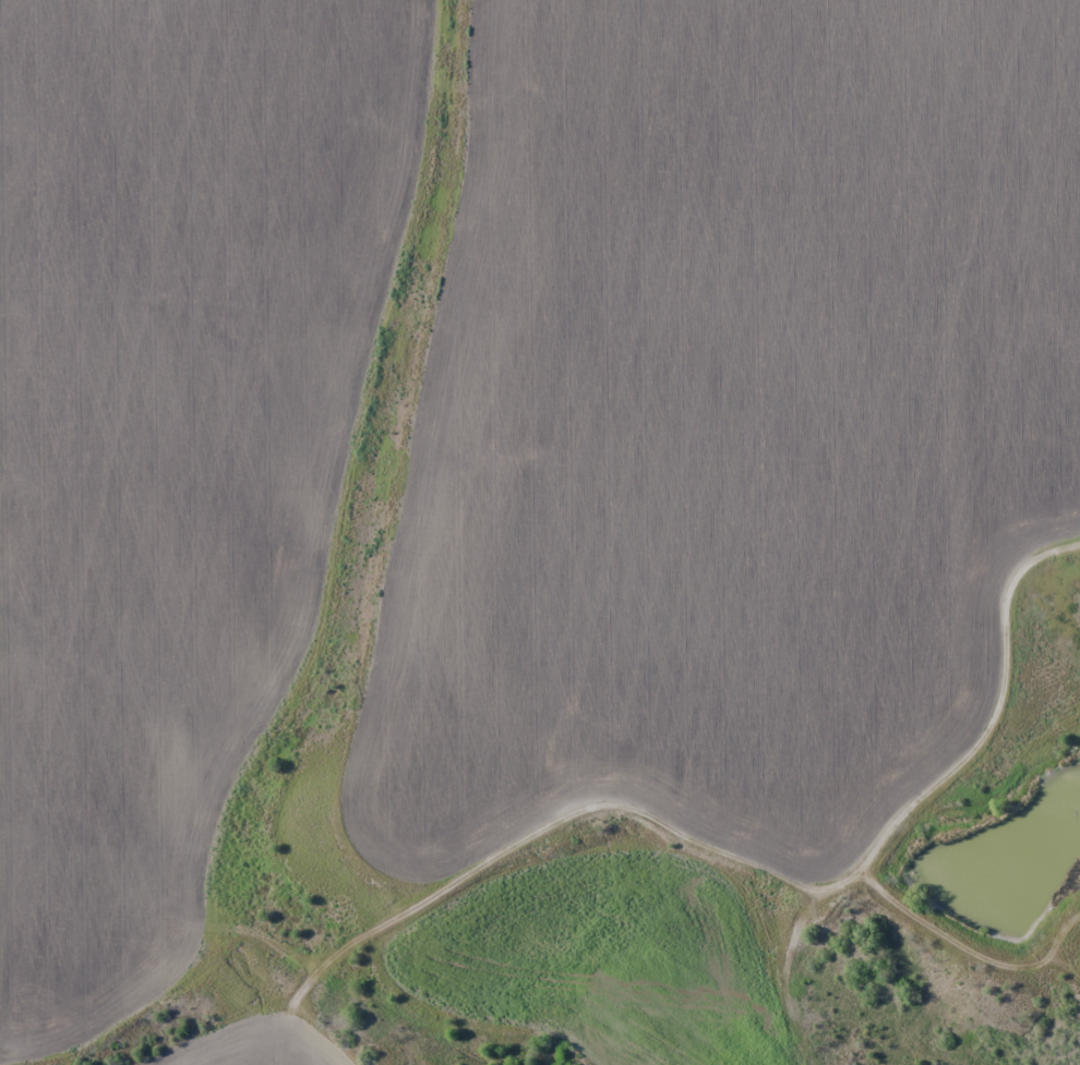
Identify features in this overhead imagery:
road: (995, 709)
road: (788, 952)

